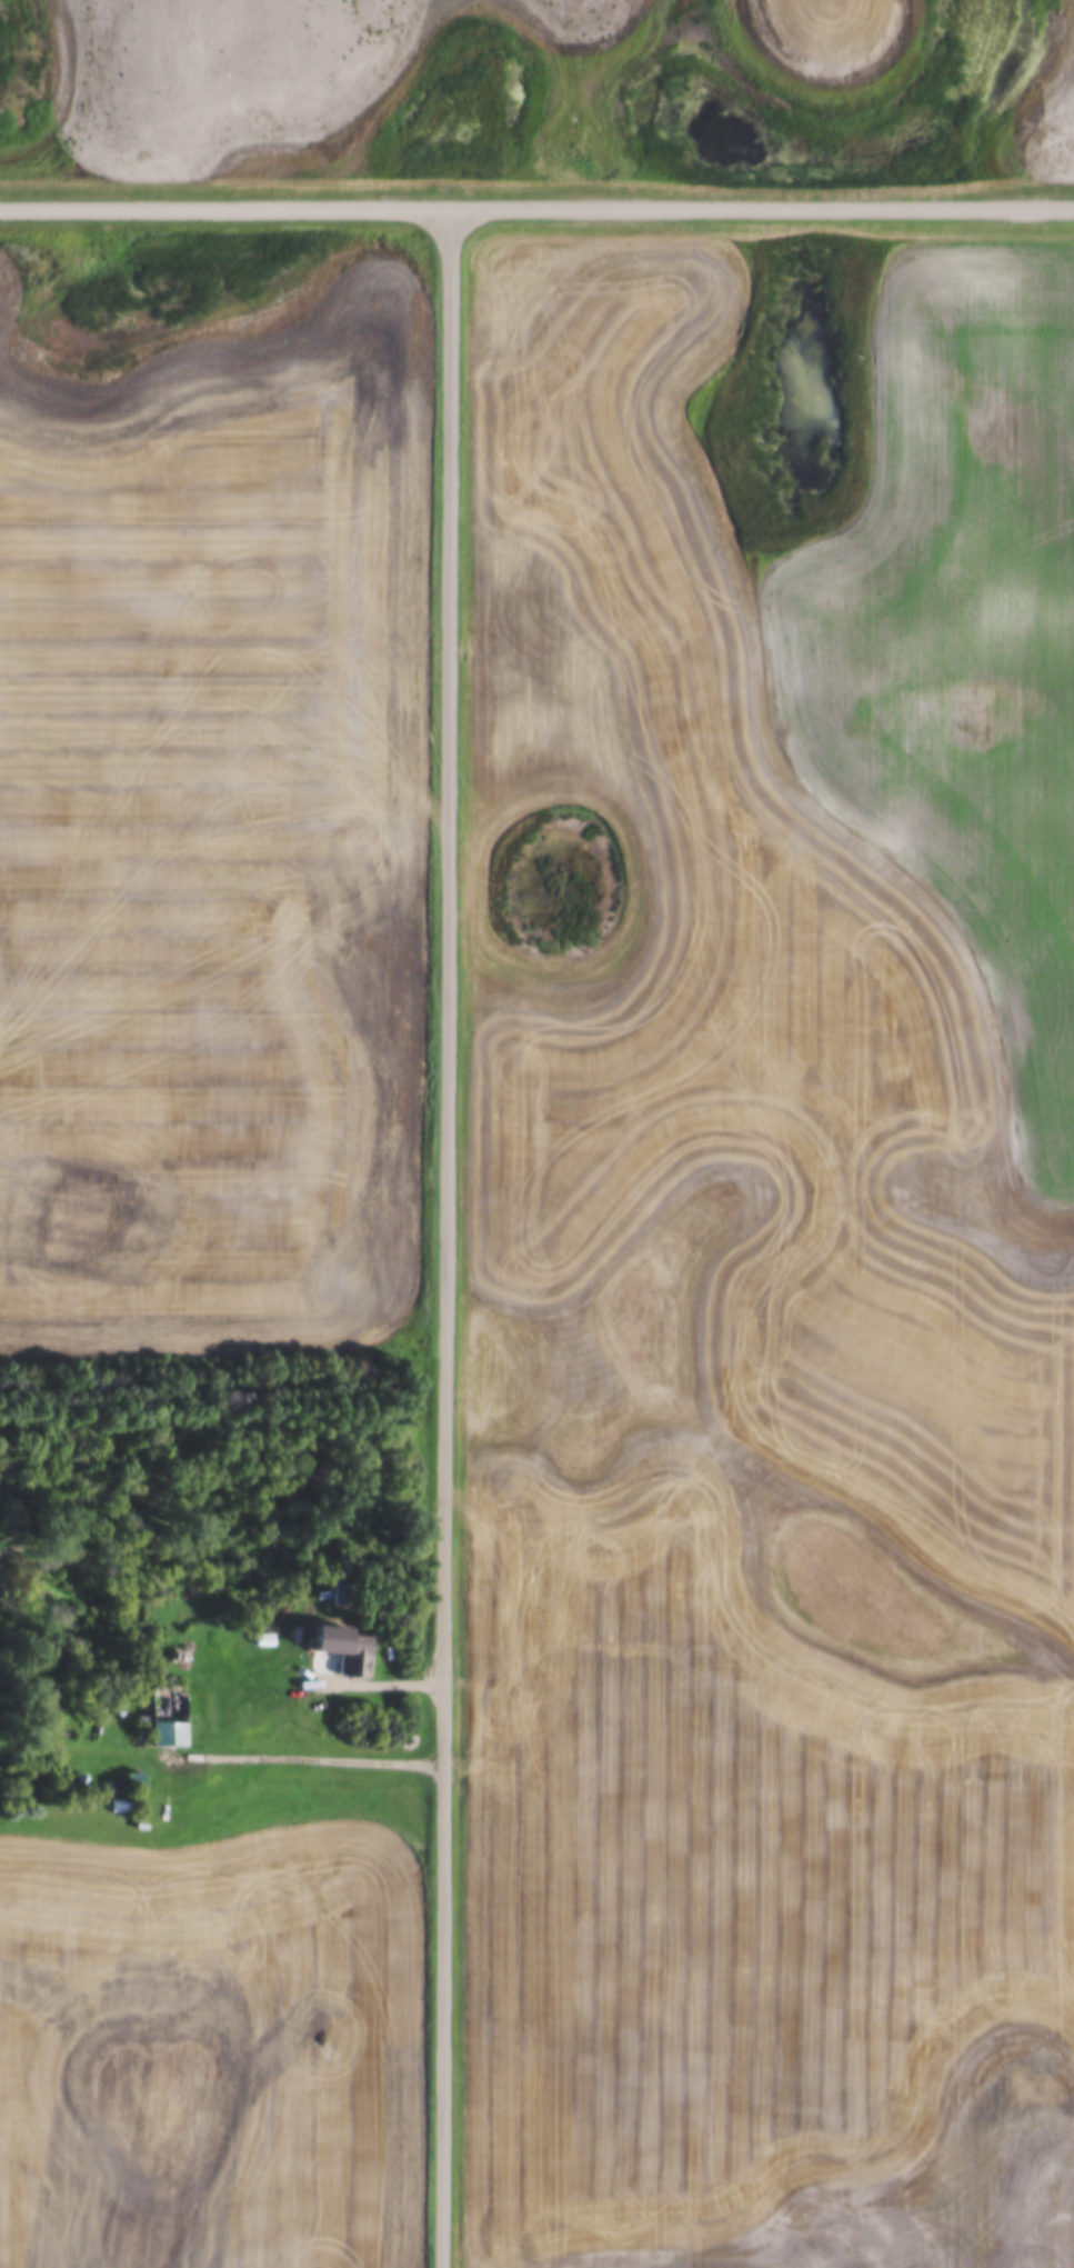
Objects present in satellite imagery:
road: (536, 204)
road: (446, 1237)
building: (343, 1595)
building: (524, 1595)
building: (355, 1662)
road: (360, 1683)
building: (169, 1715)
road: (298, 1757)
building: (134, 1780)
building: (126, 1805)

